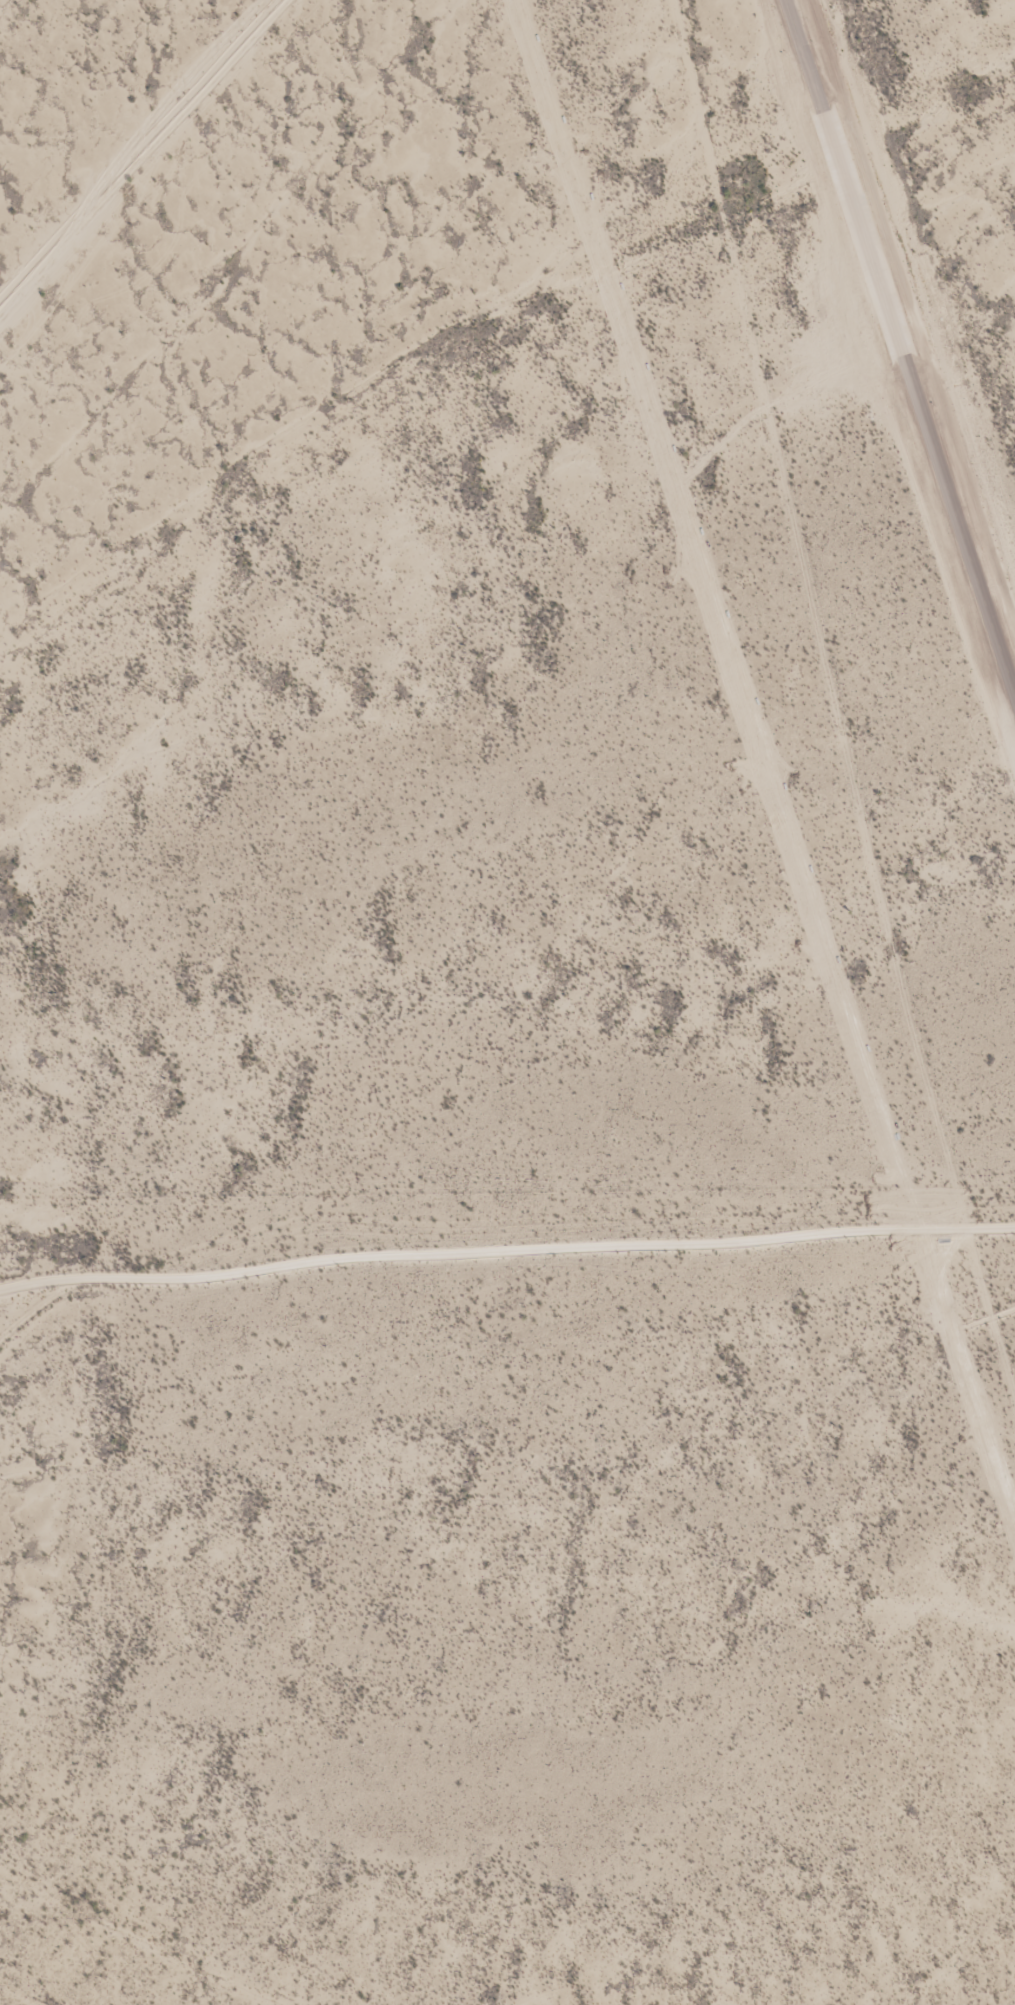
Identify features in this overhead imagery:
road: (906, 331)
road: (506, 1240)

